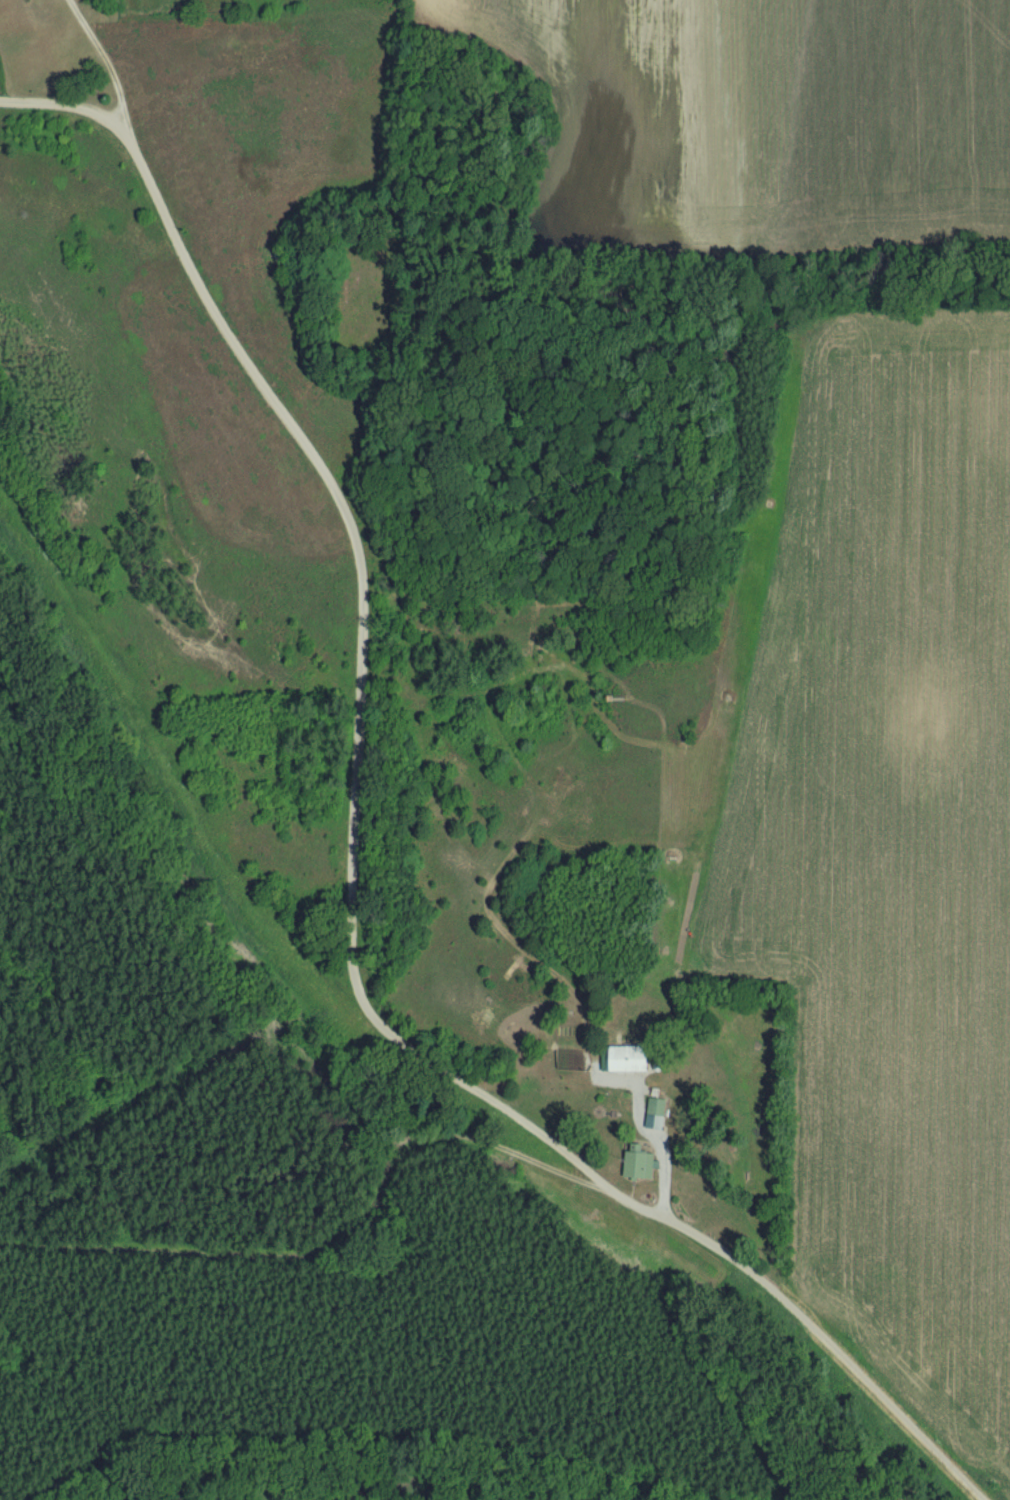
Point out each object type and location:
road: (100, 56)
road: (355, 859)
building: (620, 1057)

